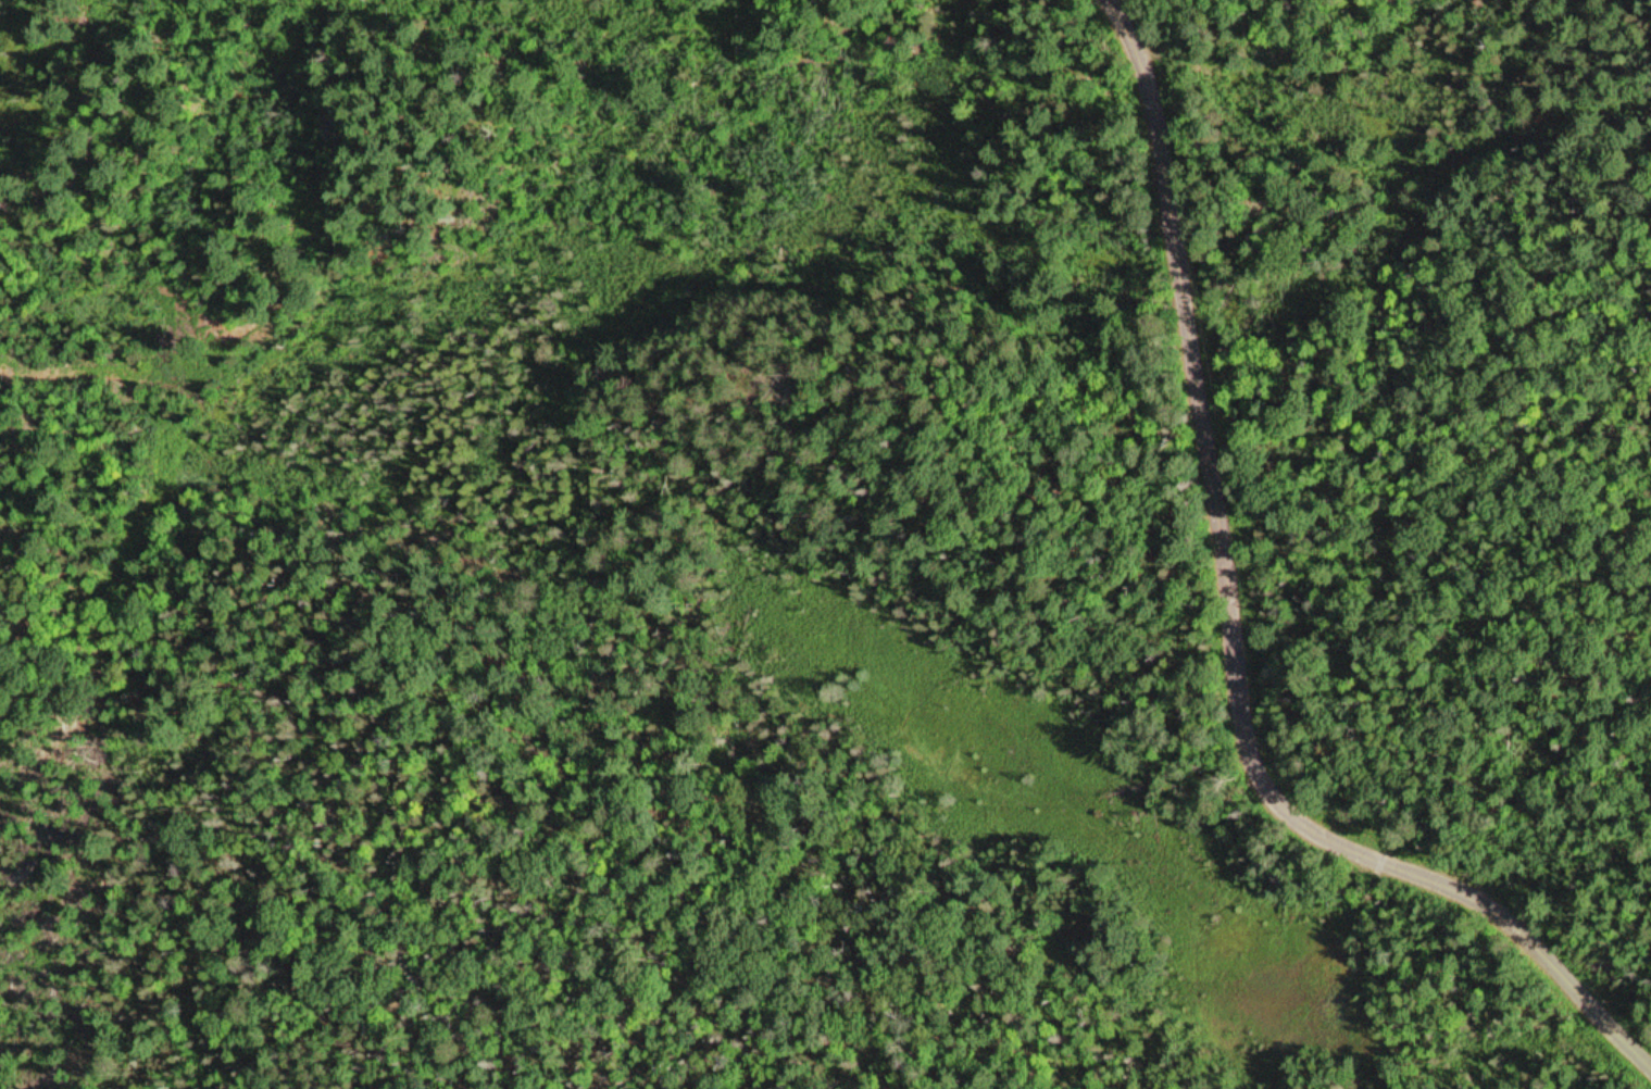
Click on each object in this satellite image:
road: (1231, 630)

